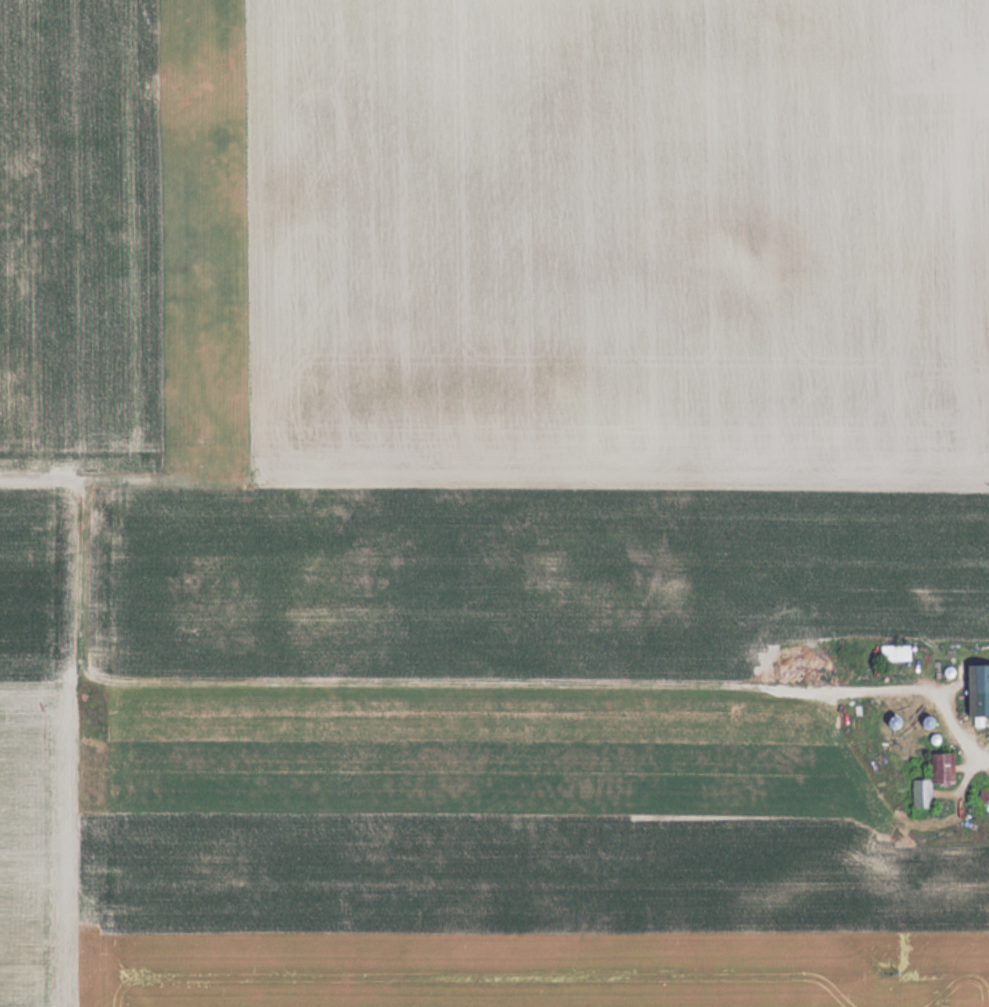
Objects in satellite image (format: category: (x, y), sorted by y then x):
building: (893, 652)
building: (977, 689)
road: (938, 693)
building: (941, 766)
building: (920, 792)
building: (984, 796)

